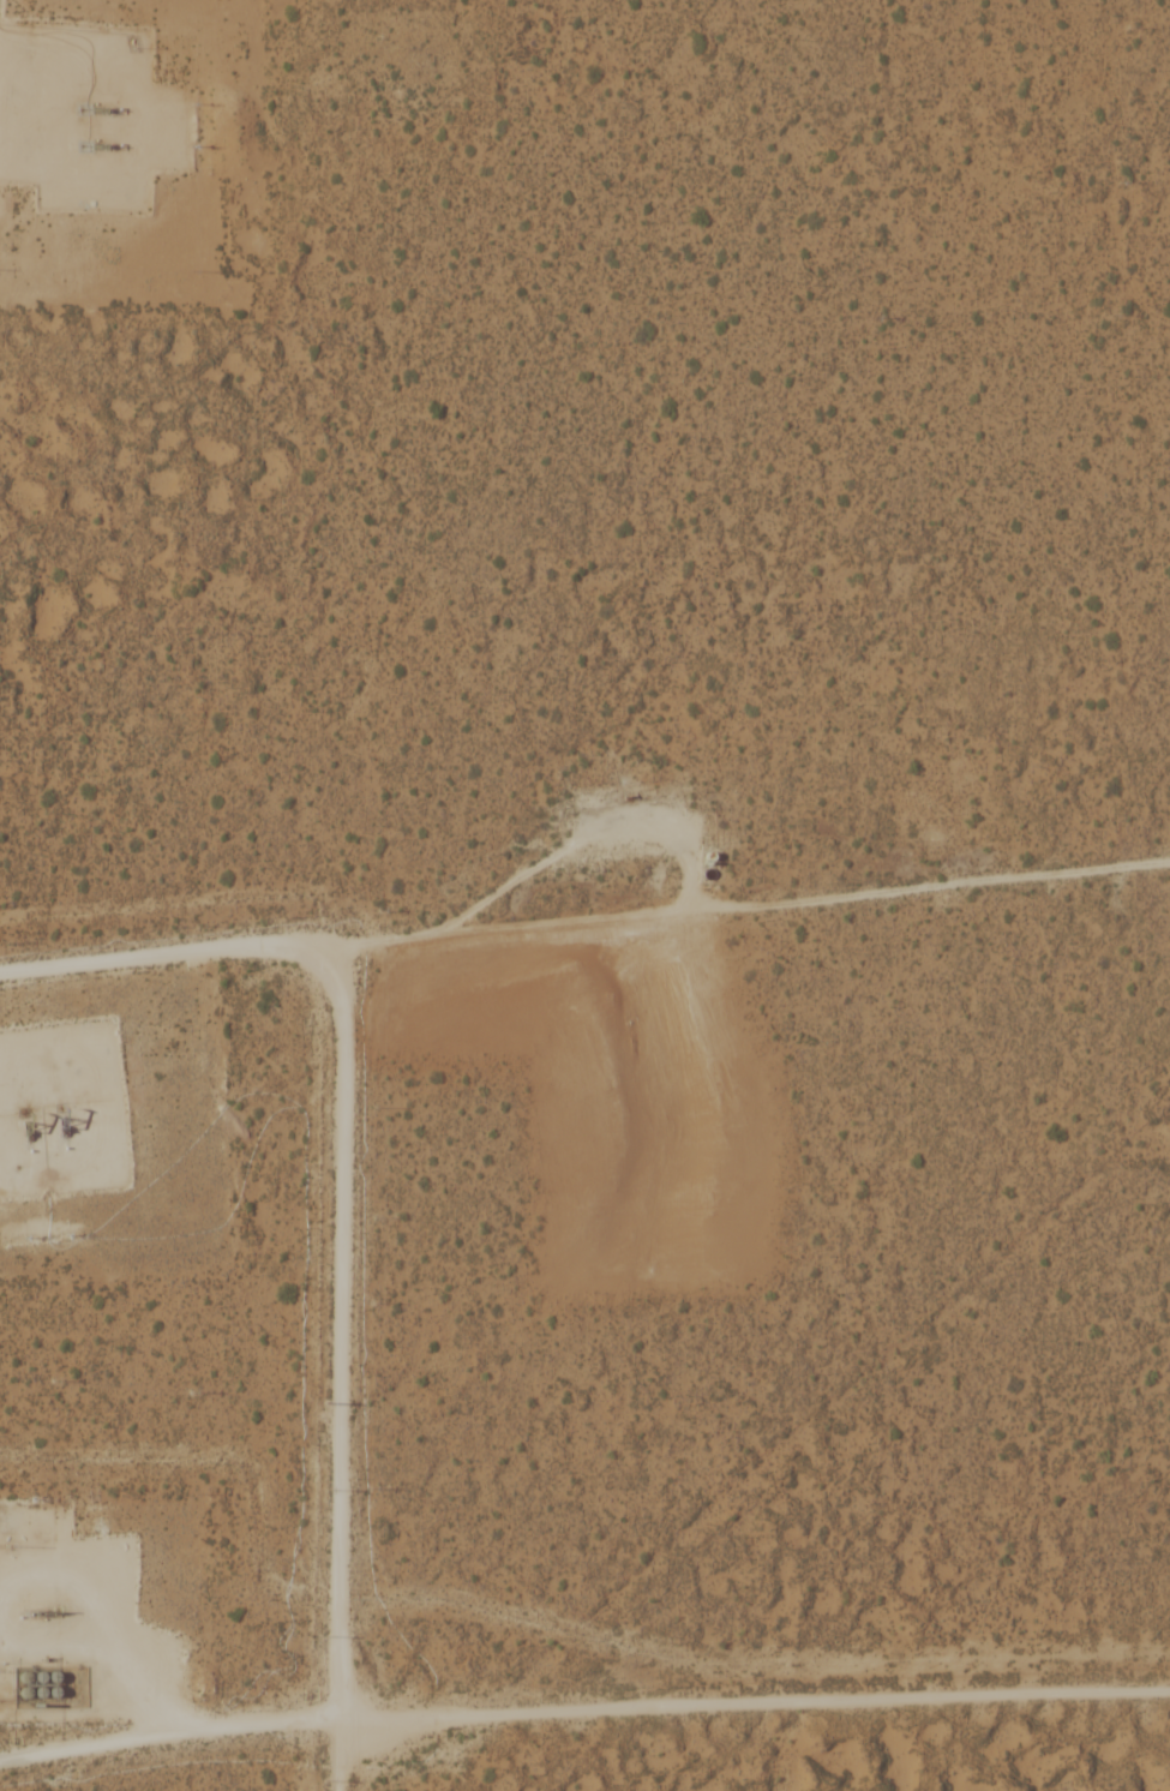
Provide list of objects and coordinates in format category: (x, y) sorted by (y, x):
road: (584, 921)
road: (341, 1368)
road: (176, 1684)
road: (755, 1705)
road: (173, 1730)

